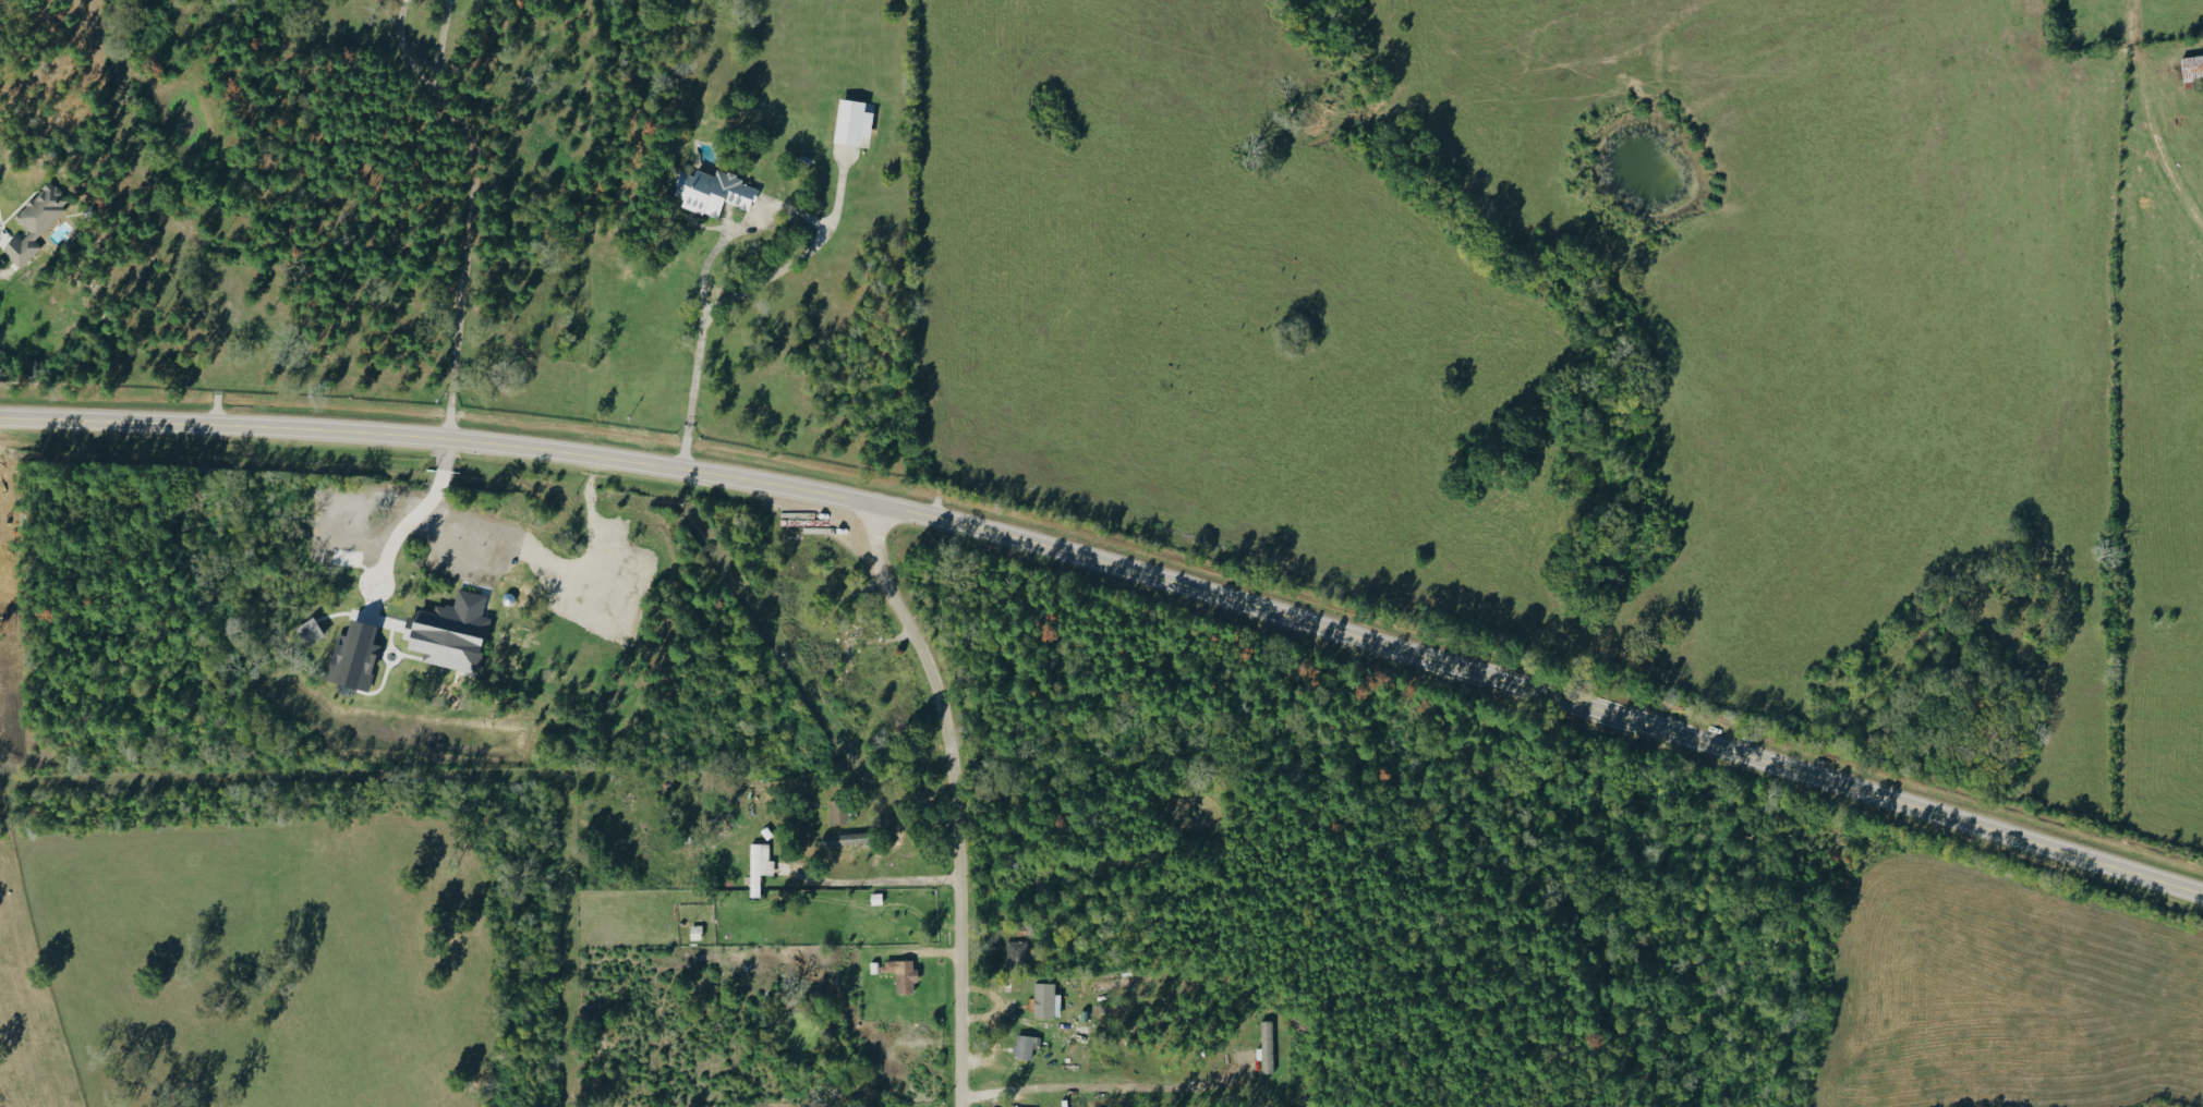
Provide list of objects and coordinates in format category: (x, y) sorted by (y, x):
building: (2190, 69)
building: (849, 122)
road: (2156, 148)
building: (711, 192)
road: (477, 212)
building: (33, 221)
road: (739, 240)
road: (414, 518)
road: (1118, 562)
building: (308, 632)
building: (448, 632)
building: (844, 653)
building: (351, 657)
road: (954, 799)
building: (836, 811)
building: (844, 839)
building: (758, 866)
road: (871, 879)
road: (1009, 886)
building: (693, 933)
building: (1016, 953)
building: (900, 974)
building: (1115, 984)
building: (1043, 1000)
building: (1024, 1046)
building: (1266, 1047)
road: (869, 1078)

